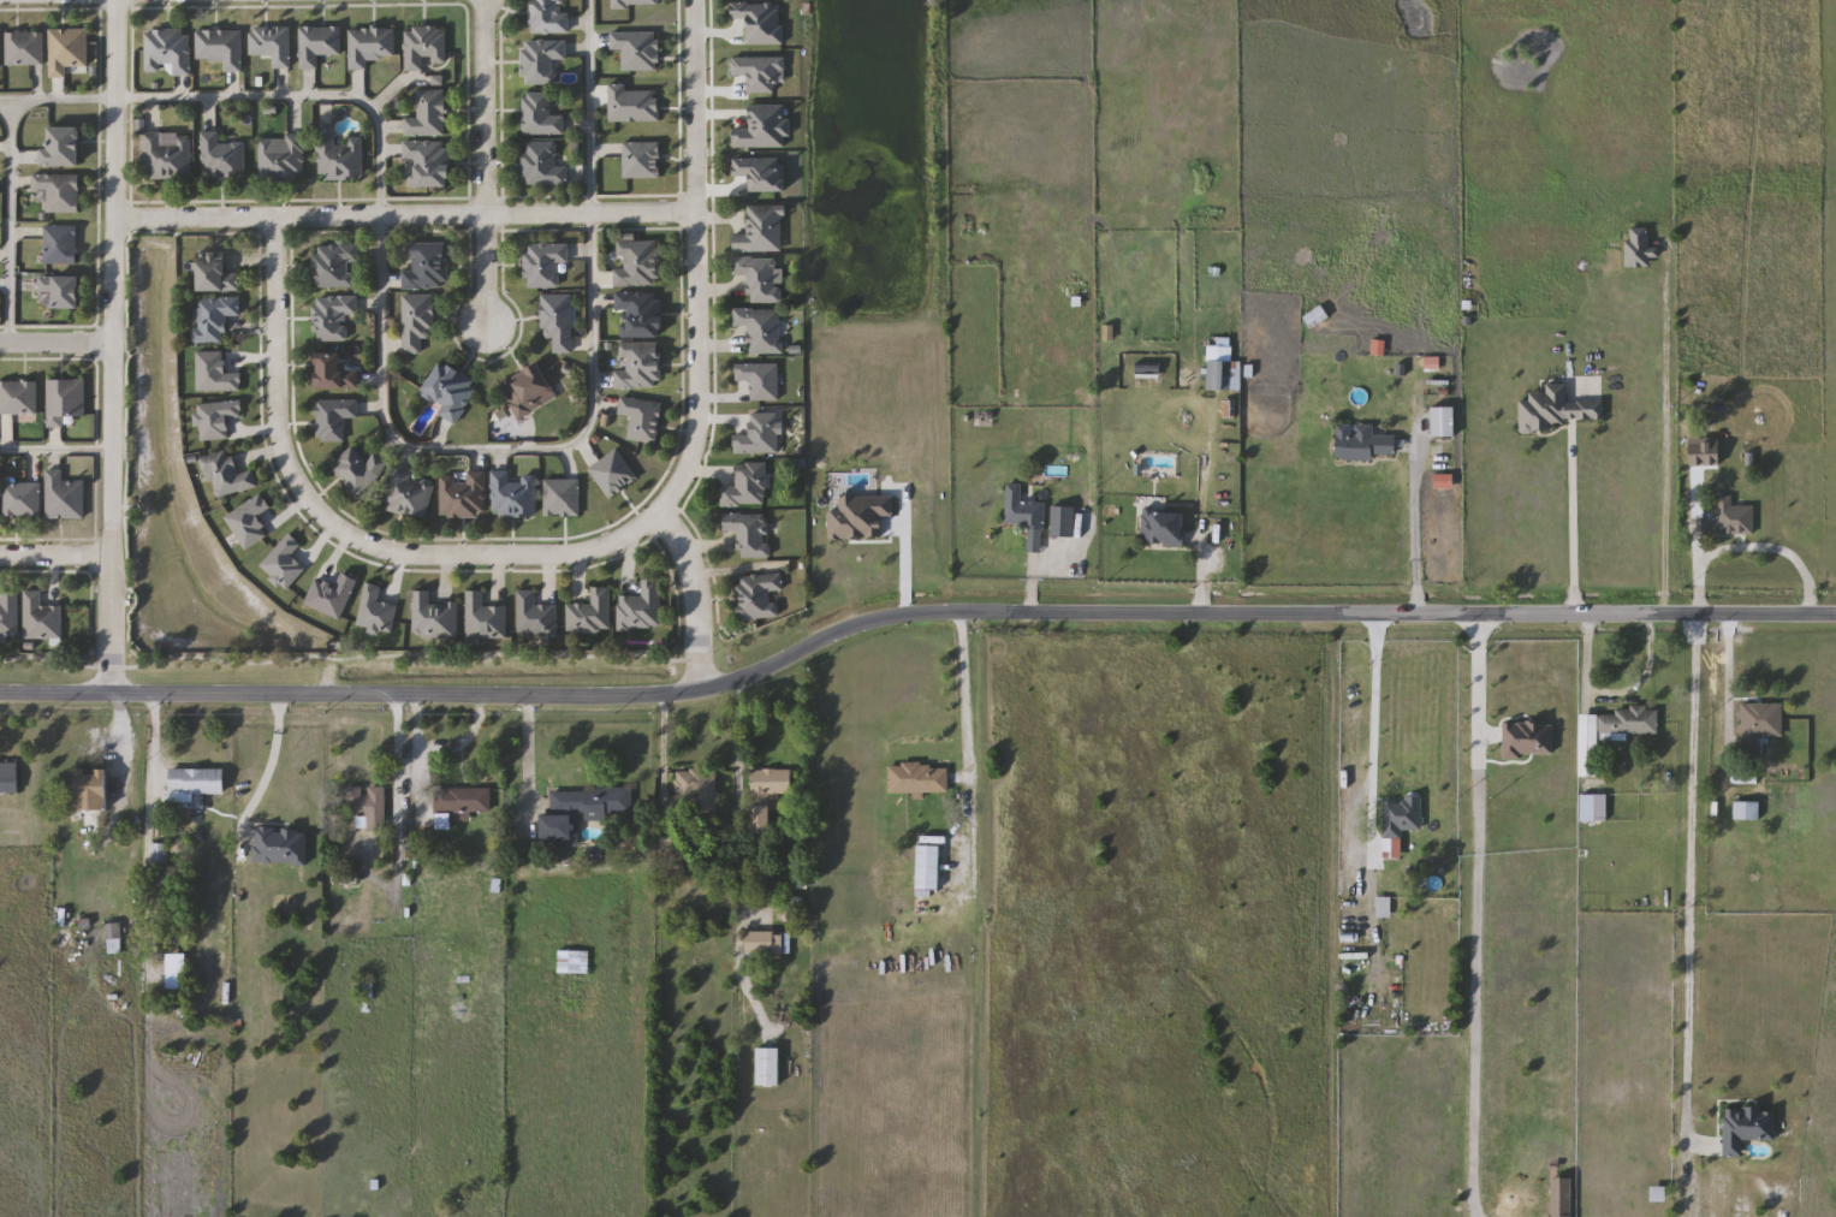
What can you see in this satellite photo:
building: (549, 17)
building: (272, 44)
building: (319, 44)
building: (372, 46)
building: (221, 47)
building: (426, 47)
building: (25, 48)
building: (0, 49)
building: (67, 51)
building: (168, 51)
building: (542, 61)
road: (482, 107)
building: (428, 114)
building: (541, 115)
building: (63, 148)
building: (168, 158)
building: (222, 158)
building: (340, 158)
building: (281, 159)
building: (428, 165)
building: (543, 165)
building: (59, 192)
road: (404, 214)
road: (11, 220)
building: (761, 230)
building: (60, 245)
road: (695, 262)
building: (637, 263)
building: (335, 266)
building: (427, 266)
building: (545, 266)
road: (485, 274)
building: (216, 275)
building: (761, 278)
building: (61, 291)
building: (640, 314)
building: (334, 316)
building: (214, 317)
building: (1317, 317)
building: (558, 321)
building: (417, 322)
building: (761, 330)
road: (57, 343)
road: (112, 348)
building: (640, 367)
building: (1222, 368)
building: (335, 373)
building: (450, 391)
building: (529, 391)
building: (18, 397)
building: (65, 400)
road: (382, 400)
building: (1555, 410)
building: (334, 418)
building: (642, 418)
building: (1444, 422)
road: (1663, 428)
building: (1363, 443)
road: (55, 449)
building: (360, 470)
building: (228, 475)
building: (748, 486)
building: (410, 493)
building: (464, 495)
building: (515, 495)
building: (64, 497)
building: (22, 500)
building: (1024, 516)
building: (1730, 518)
road: (1570, 520)
building: (1062, 522)
road: (1415, 523)
road: (339, 526)
building: (1164, 528)
building: (750, 533)
road: (907, 548)
road: (54, 554)
building: (757, 595)
road: (693, 596)
road: (909, 607)
building: (641, 608)
building: (592, 612)
building: (10, 613)
building: (535, 616)
building: (434, 617)
building: (485, 617)
building: (41, 618)
road: (1587, 660)
road: (1646, 679)
road: (1730, 681)
road: (967, 695)
building: (1759, 726)
road: (1375, 730)
building: (1610, 734)
road: (149, 761)
road: (273, 762)
building: (1748, 777)
building: (8, 778)
building: (919, 780)
building: (197, 782)
building: (93, 789)
building: (700, 789)
building: (768, 796)
building: (461, 806)
building: (368, 807)
building: (1594, 808)
building: (1747, 811)
building: (582, 812)
building: (1401, 815)
building: (160, 855)
road: (1475, 914)
road: (1694, 914)
building: (684, 928)
building: (114, 938)
building: (766, 943)
building: (574, 962)
building: (1355, 987)
building: (364, 989)
building: (768, 1068)
building: (1562, 1198)

